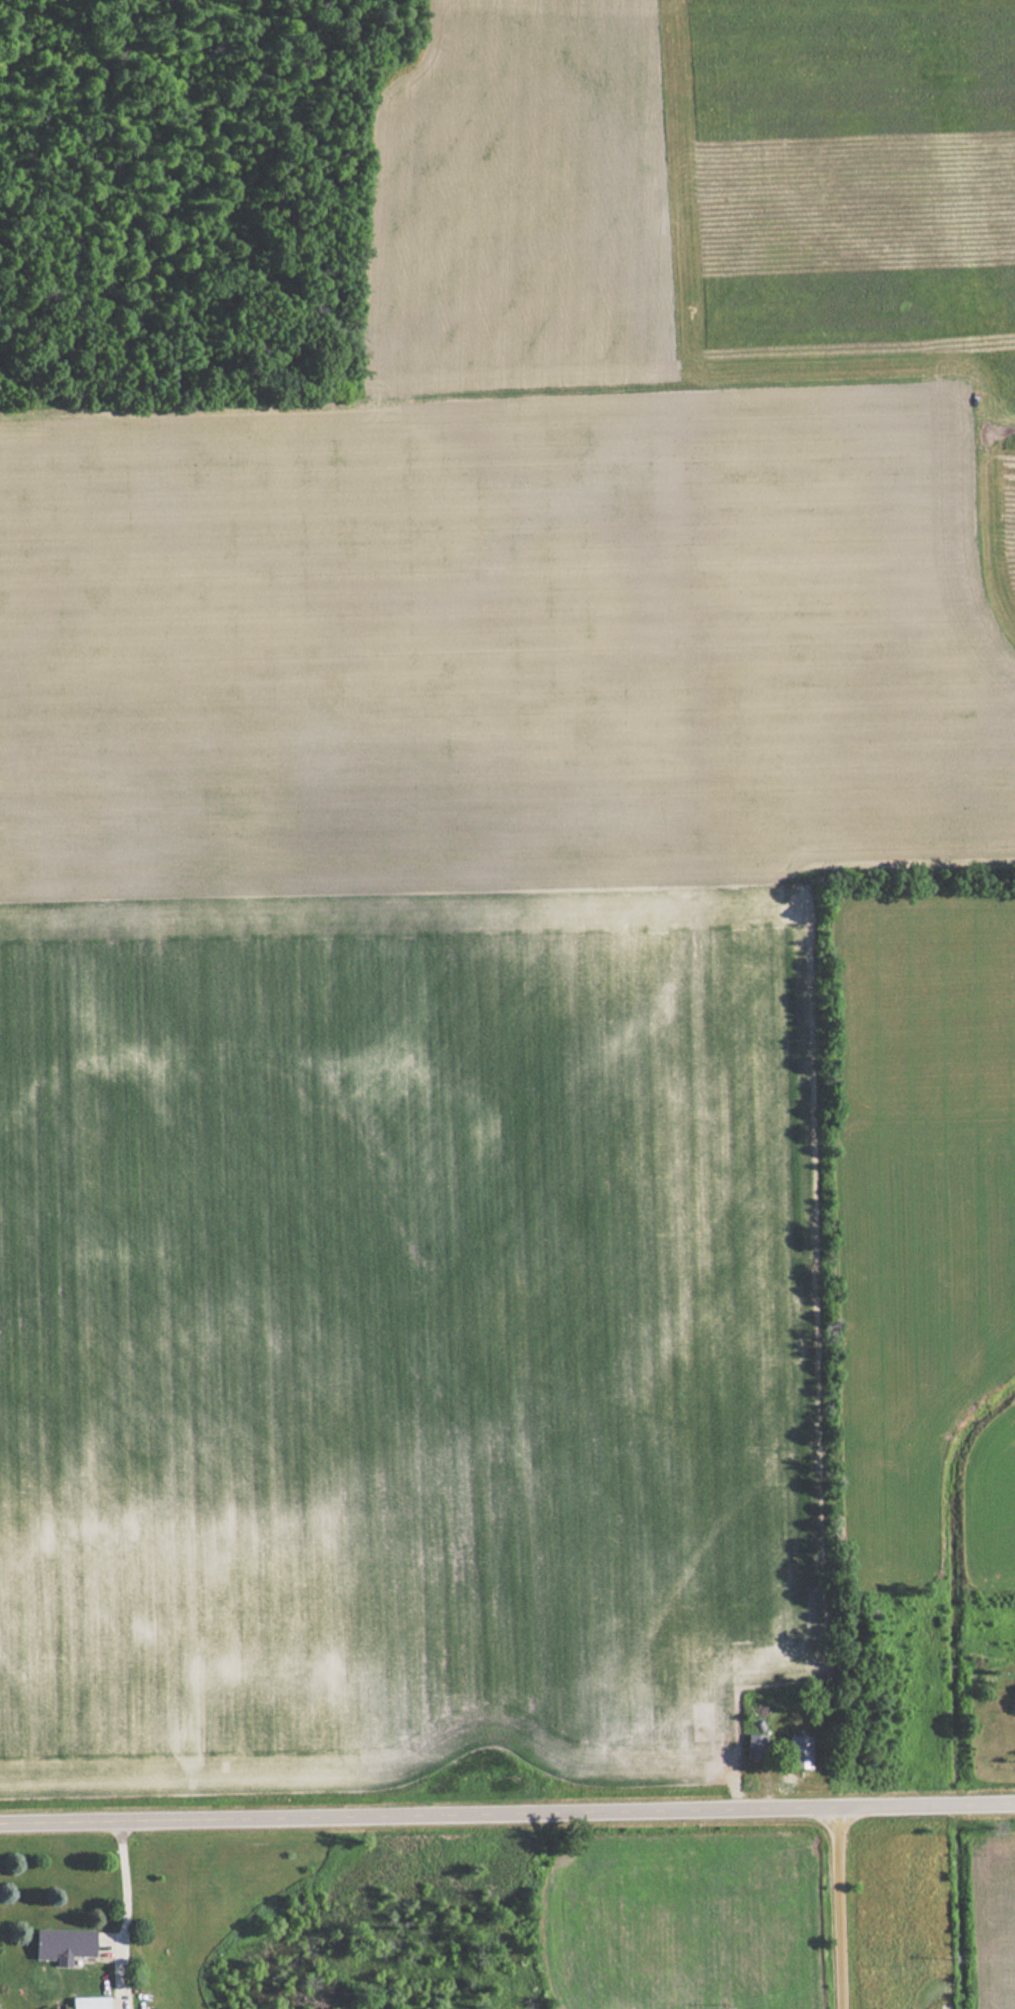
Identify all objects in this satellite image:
building: (754, 1746)
building: (798, 1751)
road: (507, 1819)
road: (843, 1911)
building: (62, 1945)
building: (88, 2003)

